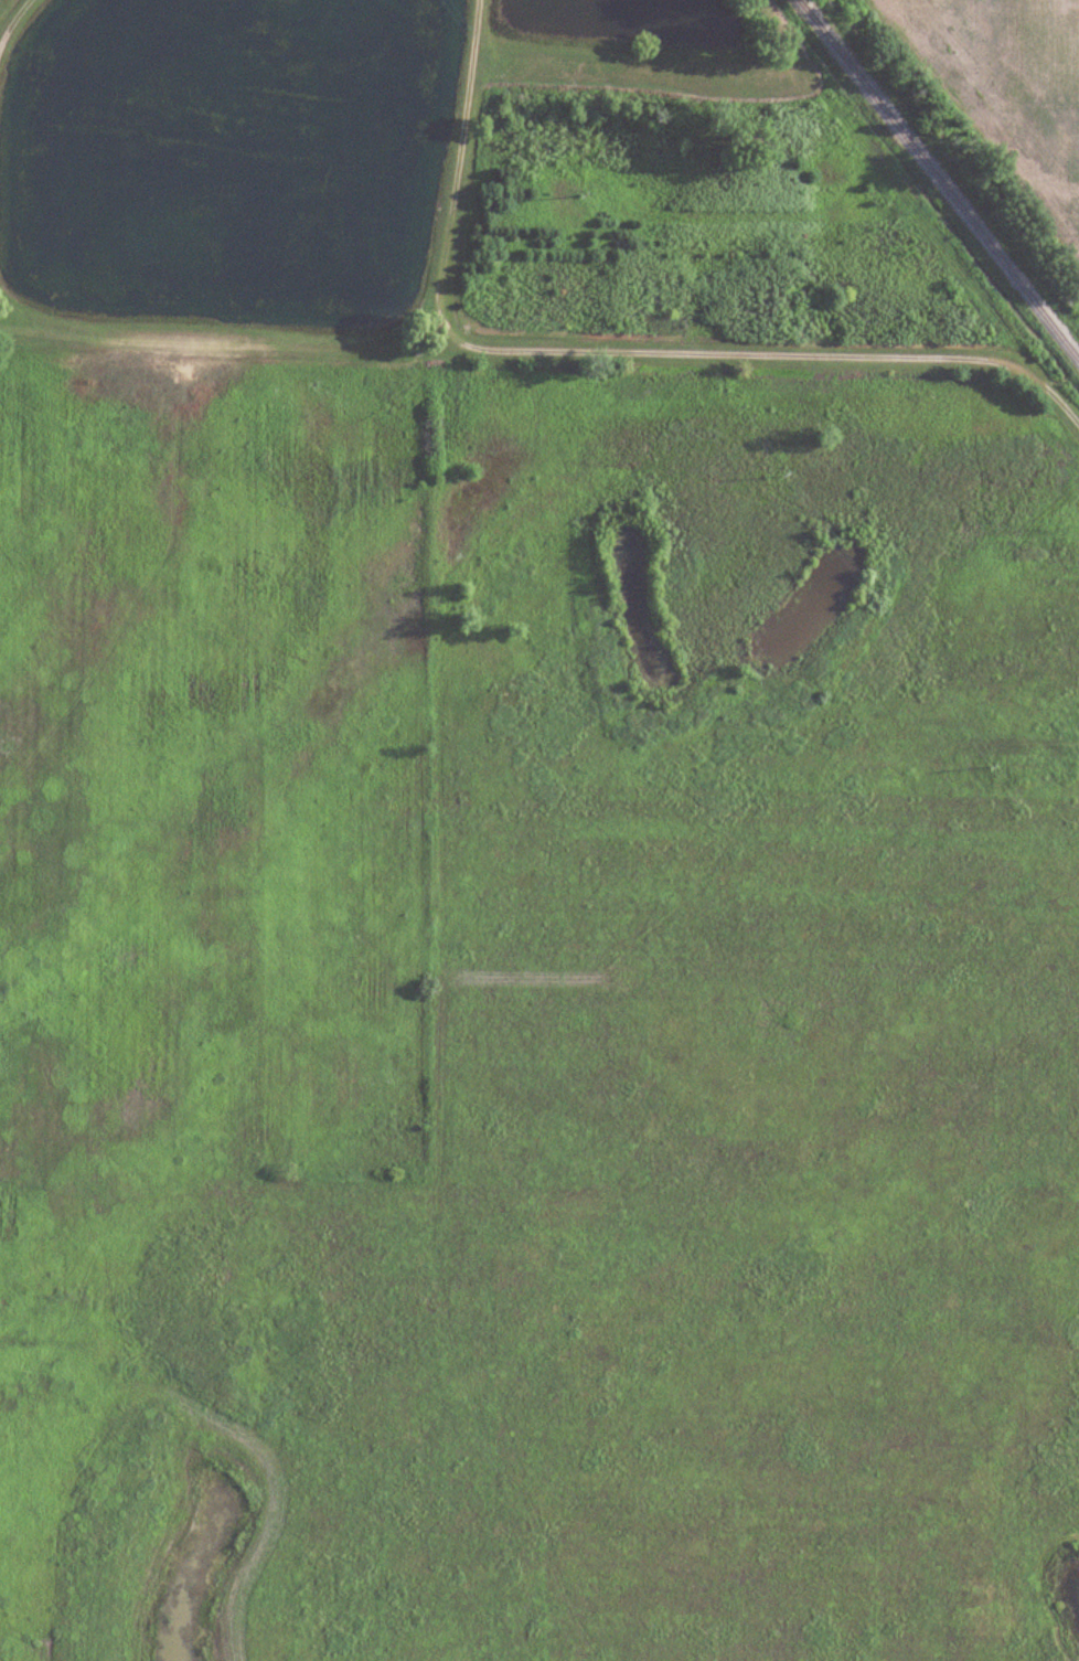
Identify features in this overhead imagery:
railway: (939, 180)

